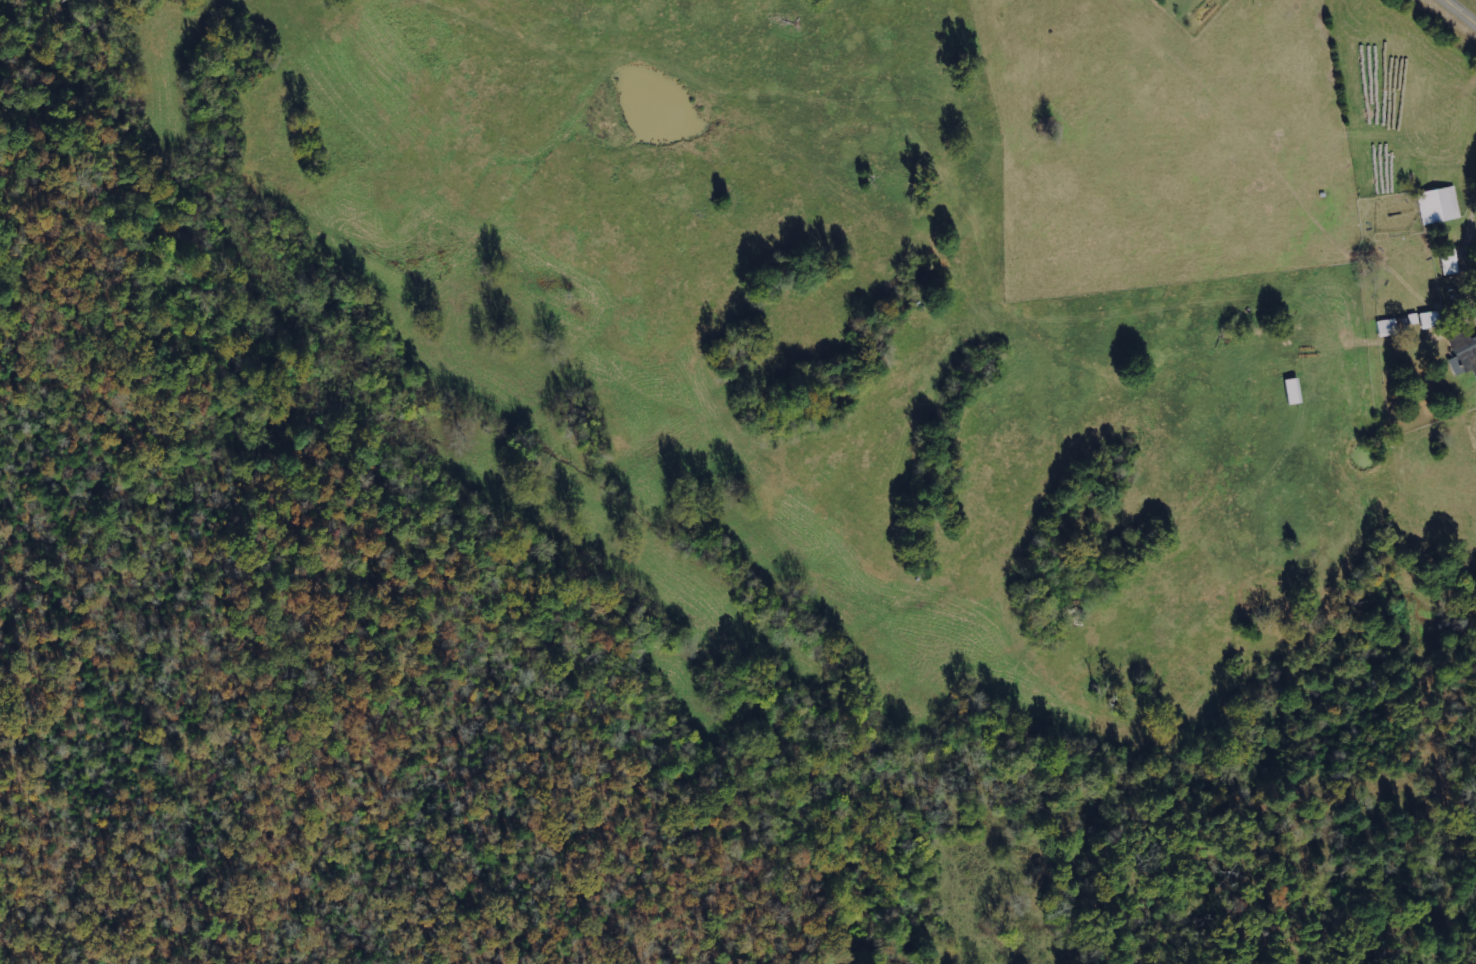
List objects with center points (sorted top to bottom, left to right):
road: (1458, 13)
building: (1439, 205)
building: (1448, 262)
building: (1413, 318)
building: (1429, 319)
building: (1387, 327)
building: (1463, 353)

